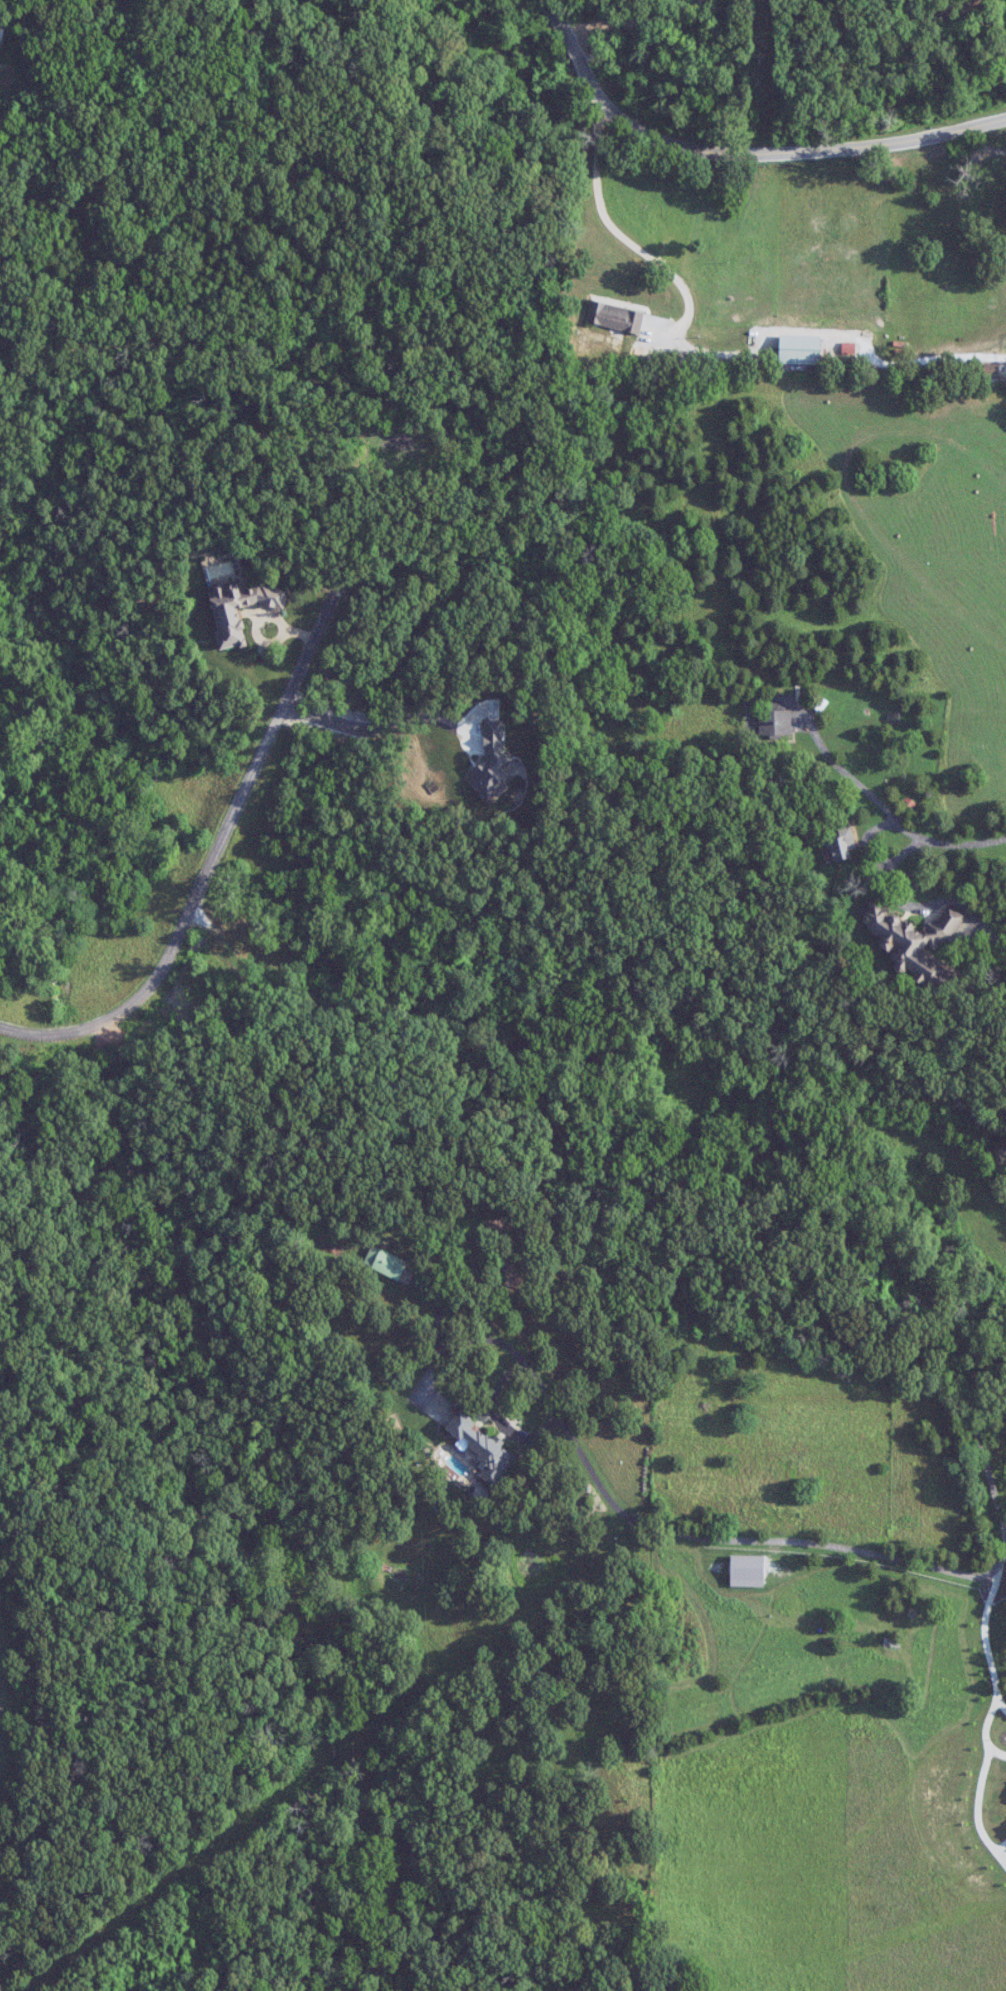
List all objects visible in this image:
road: (942, 14)
road: (633, 22)
building: (1, 31)
road: (980, 144)
road: (738, 151)
road: (619, 233)
building: (616, 317)
building: (799, 349)
building: (989, 372)
building: (227, 620)
building: (774, 720)
road: (362, 729)
road: (888, 811)
building: (842, 845)
road: (903, 852)
road: (212, 871)
road: (907, 901)
building: (913, 940)
building: (384, 1262)
road: (522, 1356)
building: (482, 1446)
road: (887, 1556)
building: (743, 1564)
road: (983, 1632)
road: (1001, 1703)
road: (984, 1730)

